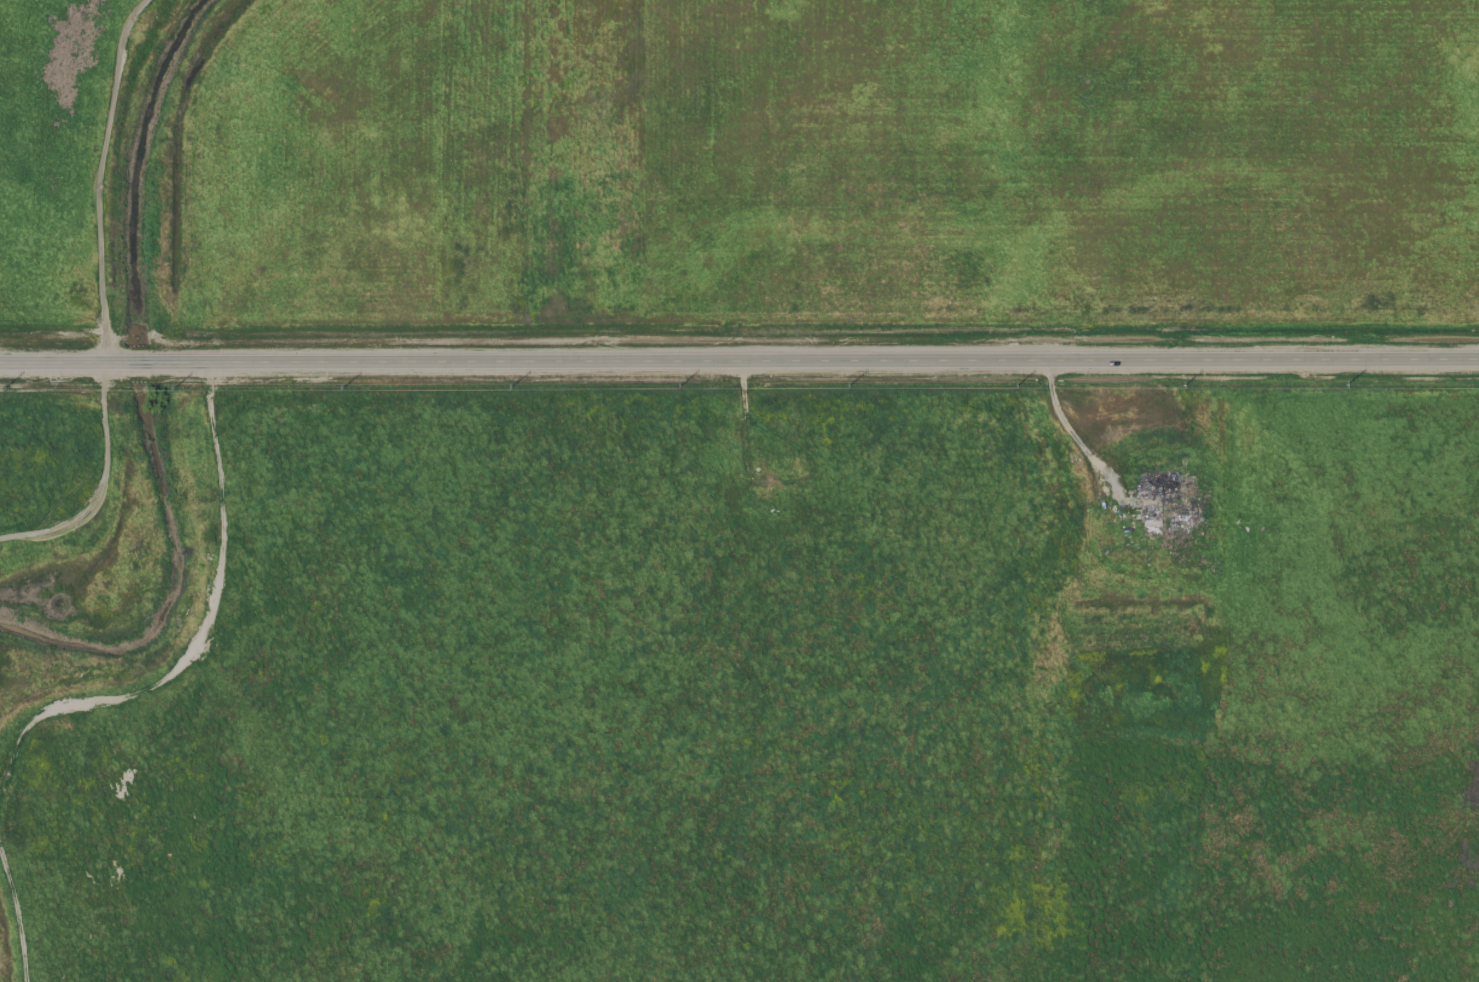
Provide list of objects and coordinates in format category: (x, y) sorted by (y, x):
road: (849, 360)
road: (147, 362)
road: (36, 363)
river: (153, 378)
road: (1067, 428)

